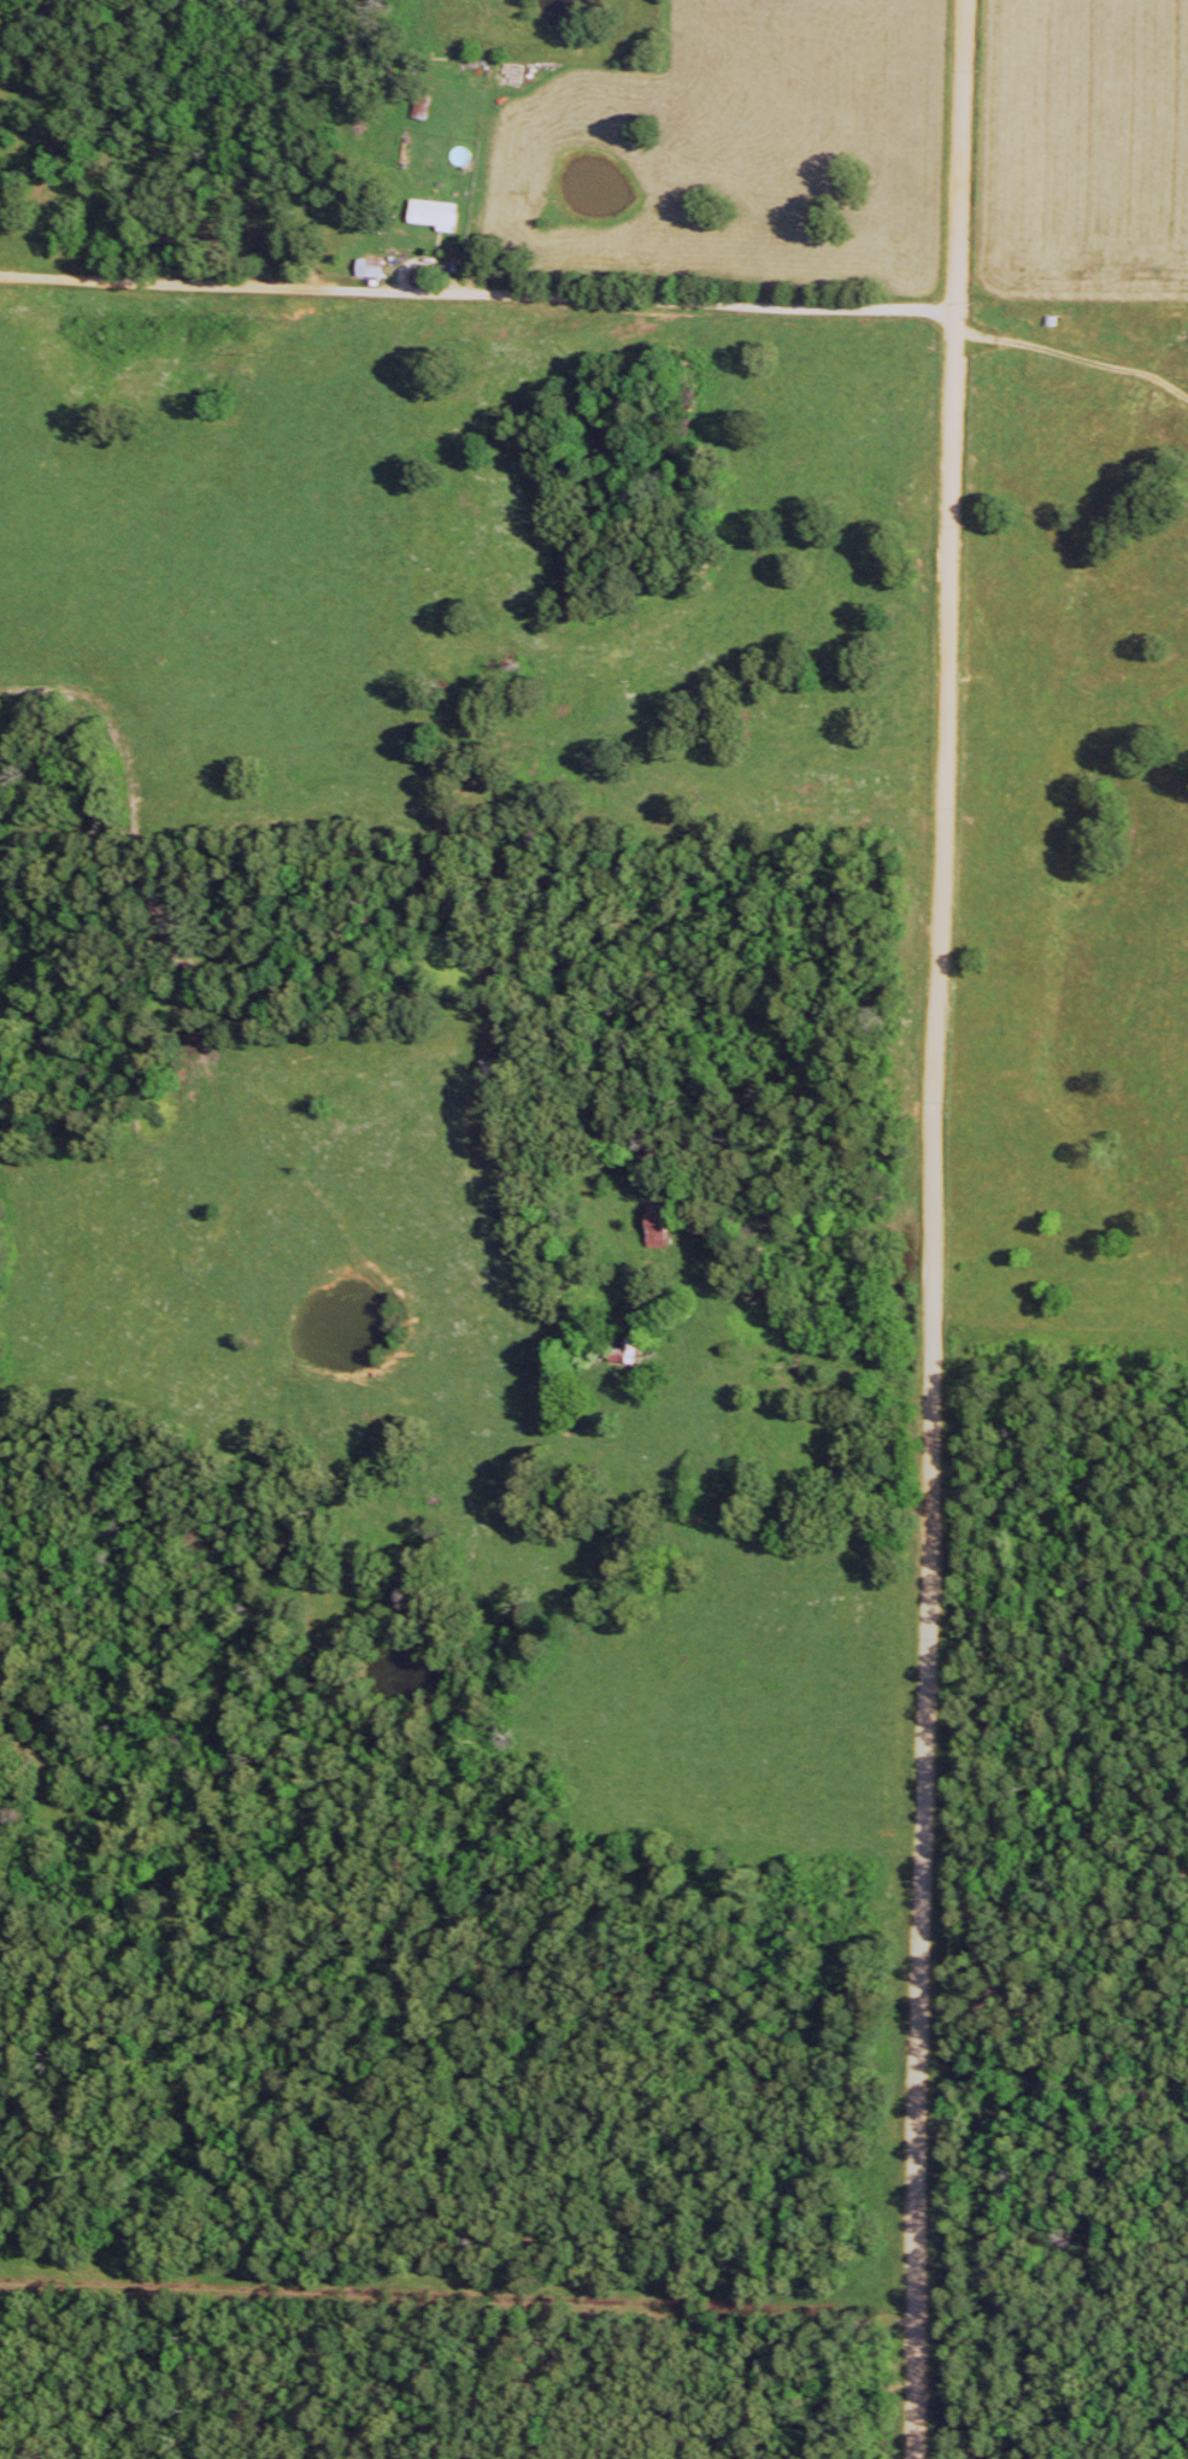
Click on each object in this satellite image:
building: (430, 221)
building: (370, 274)
road: (475, 298)
road: (931, 1228)
building: (658, 1231)

